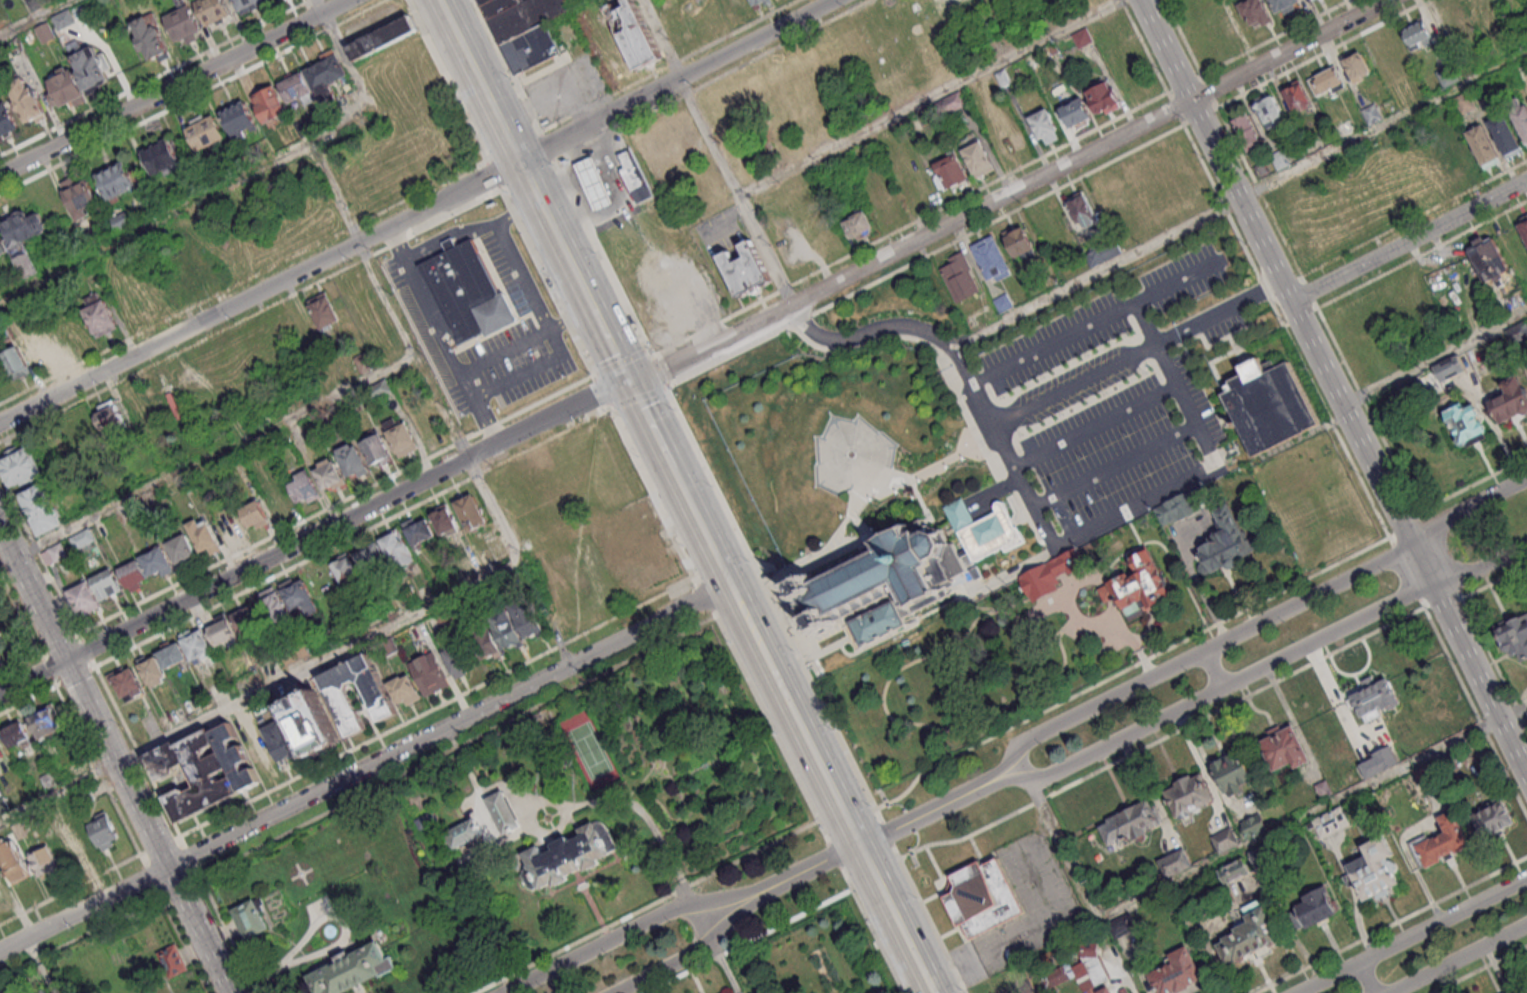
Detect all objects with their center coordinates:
building: (1309, 0)
parking lot: (521, 1)
building: (754, 1)
building: (485, 2)
building: (967, 4)
building: (247, 5)
building: (1282, 5)
building: (1482, 5)
building: (498, 6)
building: (213, 11)
building: (1255, 11)
building: (1451, 15)
road: (35, 17)
building: (525, 17)
building: (63, 18)
building: (182, 21)
building: (1223, 25)
building: (45, 31)
building: (1416, 33)
building: (381, 35)
building: (1081, 37)
building: (151, 39)
building: (639, 46)
road: (1144, 46)
building: (530, 48)
building: (1387, 49)
road: (1164, 50)
road: (1287, 50)
road: (345, 54)
building: (90, 65)
road: (506, 65)
building: (1356, 66)
building: (326, 72)
road: (155, 77)
building: (1002, 77)
road: (446, 79)
road: (675, 79)
building: (1325, 80)
parking lot: (561, 84)
road: (172, 85)
building: (64, 87)
building: (297, 88)
road: (192, 97)
road: (929, 97)
building: (1103, 97)
building: (1297, 97)
building: (27, 99)
building: (954, 100)
building: (1464, 101)
building: (269, 105)
building: (1075, 112)
building: (1370, 112)
building: (1270, 113)
building: (1519, 114)
building: (238, 118)
building: (6, 120)
building: (1044, 125)
building: (306, 127)
building: (1345, 127)
road: (504, 128)
building: (205, 130)
building: (1247, 132)
building: (1505, 135)
building: (1483, 144)
road: (546, 146)
road: (716, 151)
building: (160, 156)
building: (977, 158)
building: (1280, 158)
building: (1456, 159)
building: (1260, 168)
building: (949, 170)
road: (493, 174)
building: (214, 175)
building: (634, 176)
parking lot: (601, 178)
building: (118, 179)
building: (595, 182)
building: (78, 194)
road: (1240, 200)
road: (186, 204)
road: (515, 209)
building: (1080, 209)
building: (120, 220)
road: (997, 221)
building: (858, 224)
road: (909, 224)
building: (1522, 229)
parking lot: (719, 231)
building: (23, 237)
road: (1408, 240)
building: (1020, 242)
road: (911, 243)
building: (2, 247)
building: (1102, 251)
building: (990, 257)
road: (602, 258)
building: (1486, 261)
building: (745, 269)
road: (577, 274)
building: (958, 277)
road: (521, 280)
road: (547, 282)
road: (1179, 283)
road: (260, 290)
building: (470, 291)
road: (389, 301)
building: (323, 311)
building: (98, 313)
road: (1217, 313)
parking lot: (479, 314)
road: (250, 316)
road: (800, 320)
road: (1300, 322)
building: (1514, 331)
road: (1286, 332)
road: (1074, 335)
road: (608, 336)
road: (438, 337)
road: (525, 339)
road: (929, 345)
building: (37, 350)
road: (728, 356)
road: (1434, 359)
building: (14, 362)
building: (362, 362)
road: (620, 362)
building: (1448, 368)
road: (66, 371)
road: (659, 371)
traffic signals: (631, 382)
building: (379, 388)
road: (601, 391)
road: (597, 394)
road: (638, 398)
building: (1508, 399)
parking lot: (1105, 405)
building: (1270, 405)
building: (109, 415)
road: (647, 415)
building: (1466, 423)
building: (400, 436)
building: (377, 449)
road: (207, 458)
building: (351, 460)
road: (670, 461)
road: (956, 461)
road: (1115, 464)
building: (19, 465)
building: (329, 474)
building: (305, 486)
building: (281, 502)
road: (336, 504)
road: (1034, 505)
road: (1466, 506)
building: (1180, 507)
building: (40, 508)
building: (471, 511)
building: (254, 513)
building: (443, 519)
road: (704, 529)
building: (418, 531)
building: (985, 531)
building: (202, 535)
building: (83, 537)
building: (1224, 541)
building: (180, 547)
road: (283, 548)
building: (397, 549)
building: (54, 553)
road: (39, 554)
building: (370, 557)
building: (156, 560)
road: (1421, 564)
road: (1479, 564)
building: (345, 568)
building: (1050, 573)
building: (133, 574)
building: (885, 581)
road: (262, 582)
building: (106, 583)
building: (1138, 586)
road: (1108, 592)
building: (299, 595)
building: (83, 597)
building: (272, 603)
road: (773, 605)
road: (1069, 607)
road: (940, 608)
road: (1049, 609)
road: (995, 610)
road: (19, 614)
building: (247, 618)
building: (526, 619)
road: (718, 625)
building: (506, 628)
building: (221, 629)
building: (1514, 636)
road: (368, 638)
road: (1128, 638)
building: (2, 640)
building: (489, 641)
road: (59, 643)
building: (196, 644)
building: (388, 645)
road: (88, 649)
road: (831, 649)
road: (1198, 653)
building: (171, 654)
building: (458, 658)
road: (19, 663)
road: (1128, 668)
road: (1210, 669)
road: (47, 670)
building: (151, 670)
building: (428, 672)
road: (75, 676)
road: (1478, 680)
building: (126, 683)
road: (1217, 687)
building: (403, 690)
building: (377, 695)
building: (1373, 697)
road: (28, 700)
road: (437, 707)
road: (1475, 712)
building: (47, 721)
building: (310, 722)
road: (449, 725)
road: (952, 731)
building: (18, 734)
road: (1163, 740)
building: (279, 741)
road: (458, 747)
building: (1283, 747)
building: (4, 752)
building: (234, 756)
road: (116, 760)
building: (1378, 761)
building: (1445, 762)
building: (1231, 773)
building: (204, 775)
road: (101, 777)
road: (833, 788)
building: (1323, 788)
road: (58, 791)
building: (1187, 794)
road: (604, 802)
road: (932, 811)
building: (505, 812)
building: (1491, 816)
building: (1330, 820)
building: (1131, 821)
building: (428, 822)
building: (1252, 823)
building: (104, 832)
building: (465, 833)
road: (542, 833)
road: (888, 833)
building: (72, 834)
building: (1224, 839)
building: (1440, 841)
road: (1243, 851)
road: (835, 854)
building: (570, 855)
road: (191, 857)
building: (44, 859)
building: (327, 859)
building: (12, 861)
building: (1174, 862)
building: (1374, 870)
road: (804, 871)
building: (1230, 872)
road: (151, 877)
road: (184, 886)
road: (70, 890)
building: (982, 897)
building: (1315, 905)
road: (648, 907)
road: (84, 909)
parking lot: (1024, 910)
building: (252, 917)
road: (928, 919)
road: (344, 924)
road: (1393, 925)
road: (227, 929)
road: (872, 929)
road: (622, 933)
road: (1411, 935)
building: (1251, 936)
road: (84, 937)
road: (182, 940)
road: (750, 942)
road: (687, 955)
road: (1456, 957)
building: (172, 960)
road: (724, 964)
building: (1080, 966)
building: (352, 969)
road: (1481, 970)
road: (1124, 972)
building: (1175, 973)
road: (1365, 977)
road: (264, 978)
building: (1104, 990)
building: (1121, 990)

